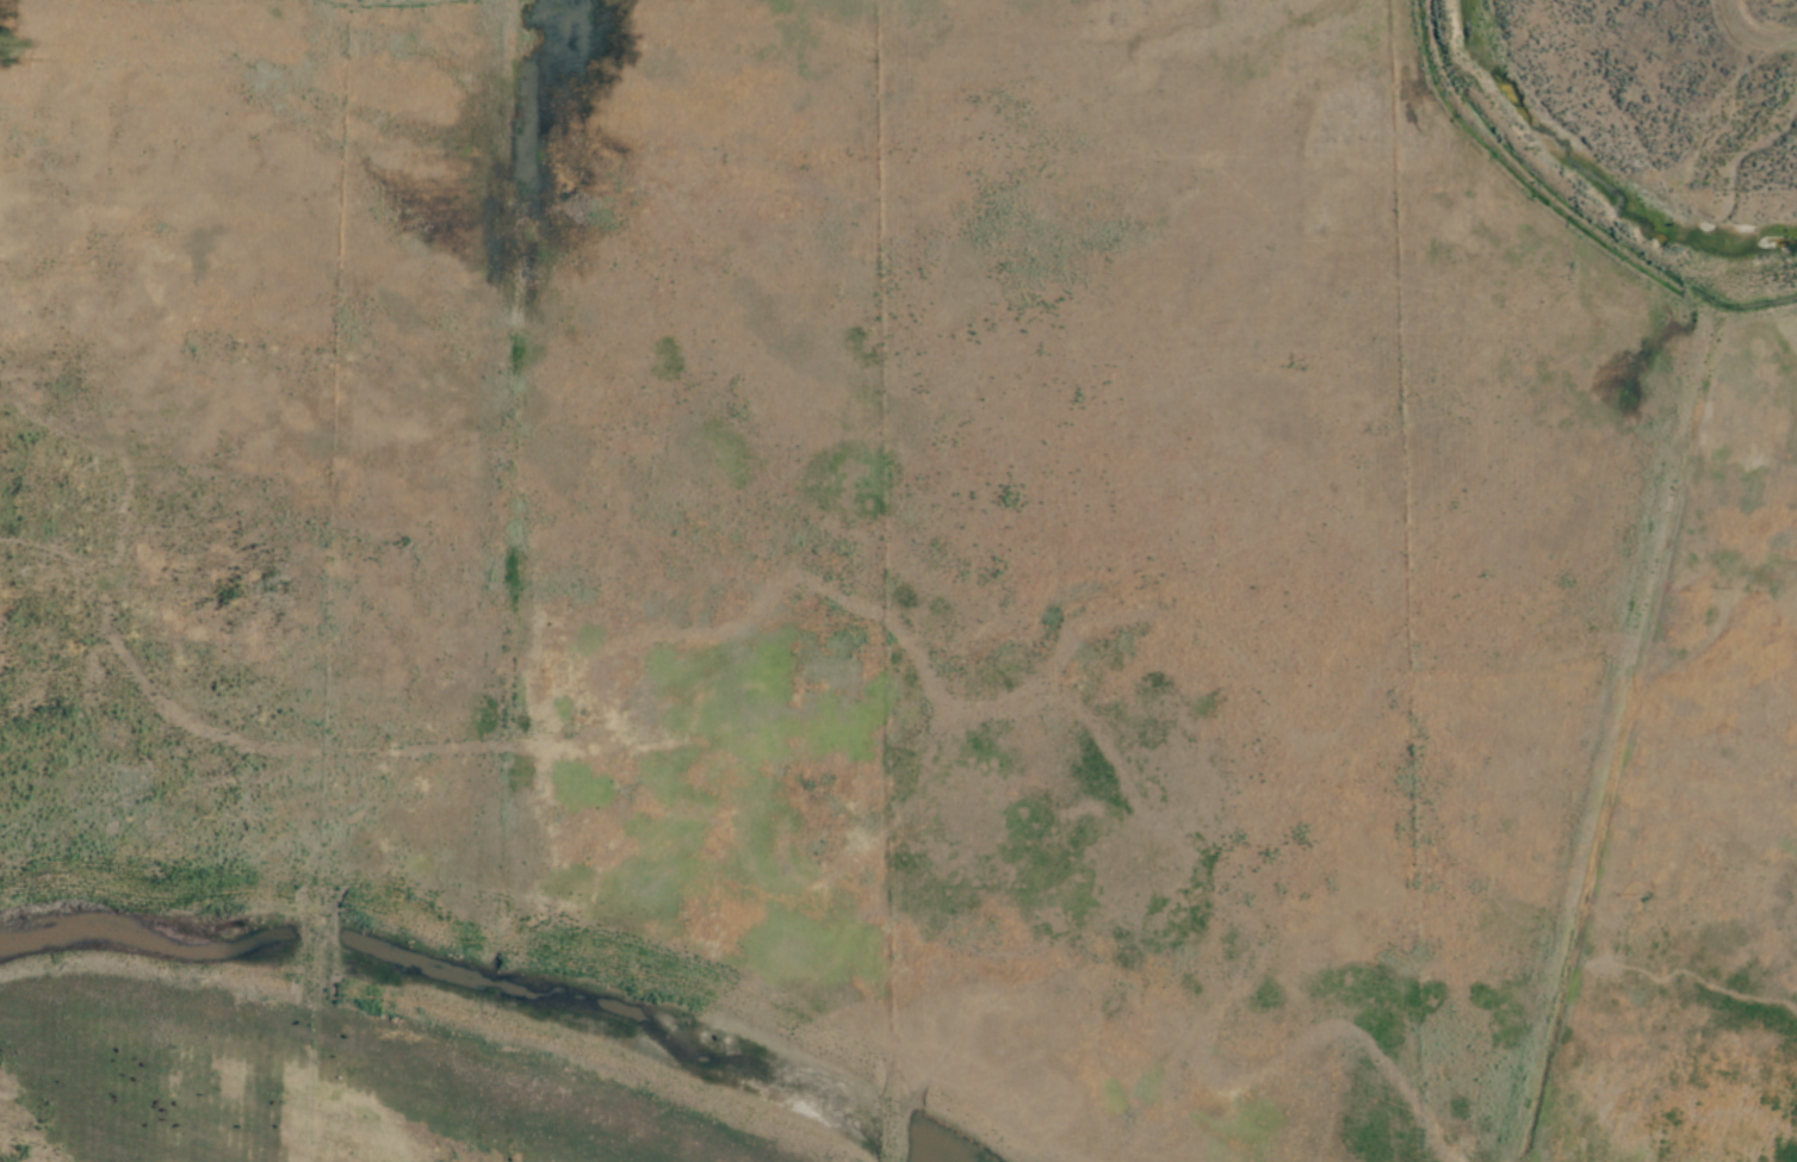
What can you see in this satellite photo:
road: (1756, 35)

